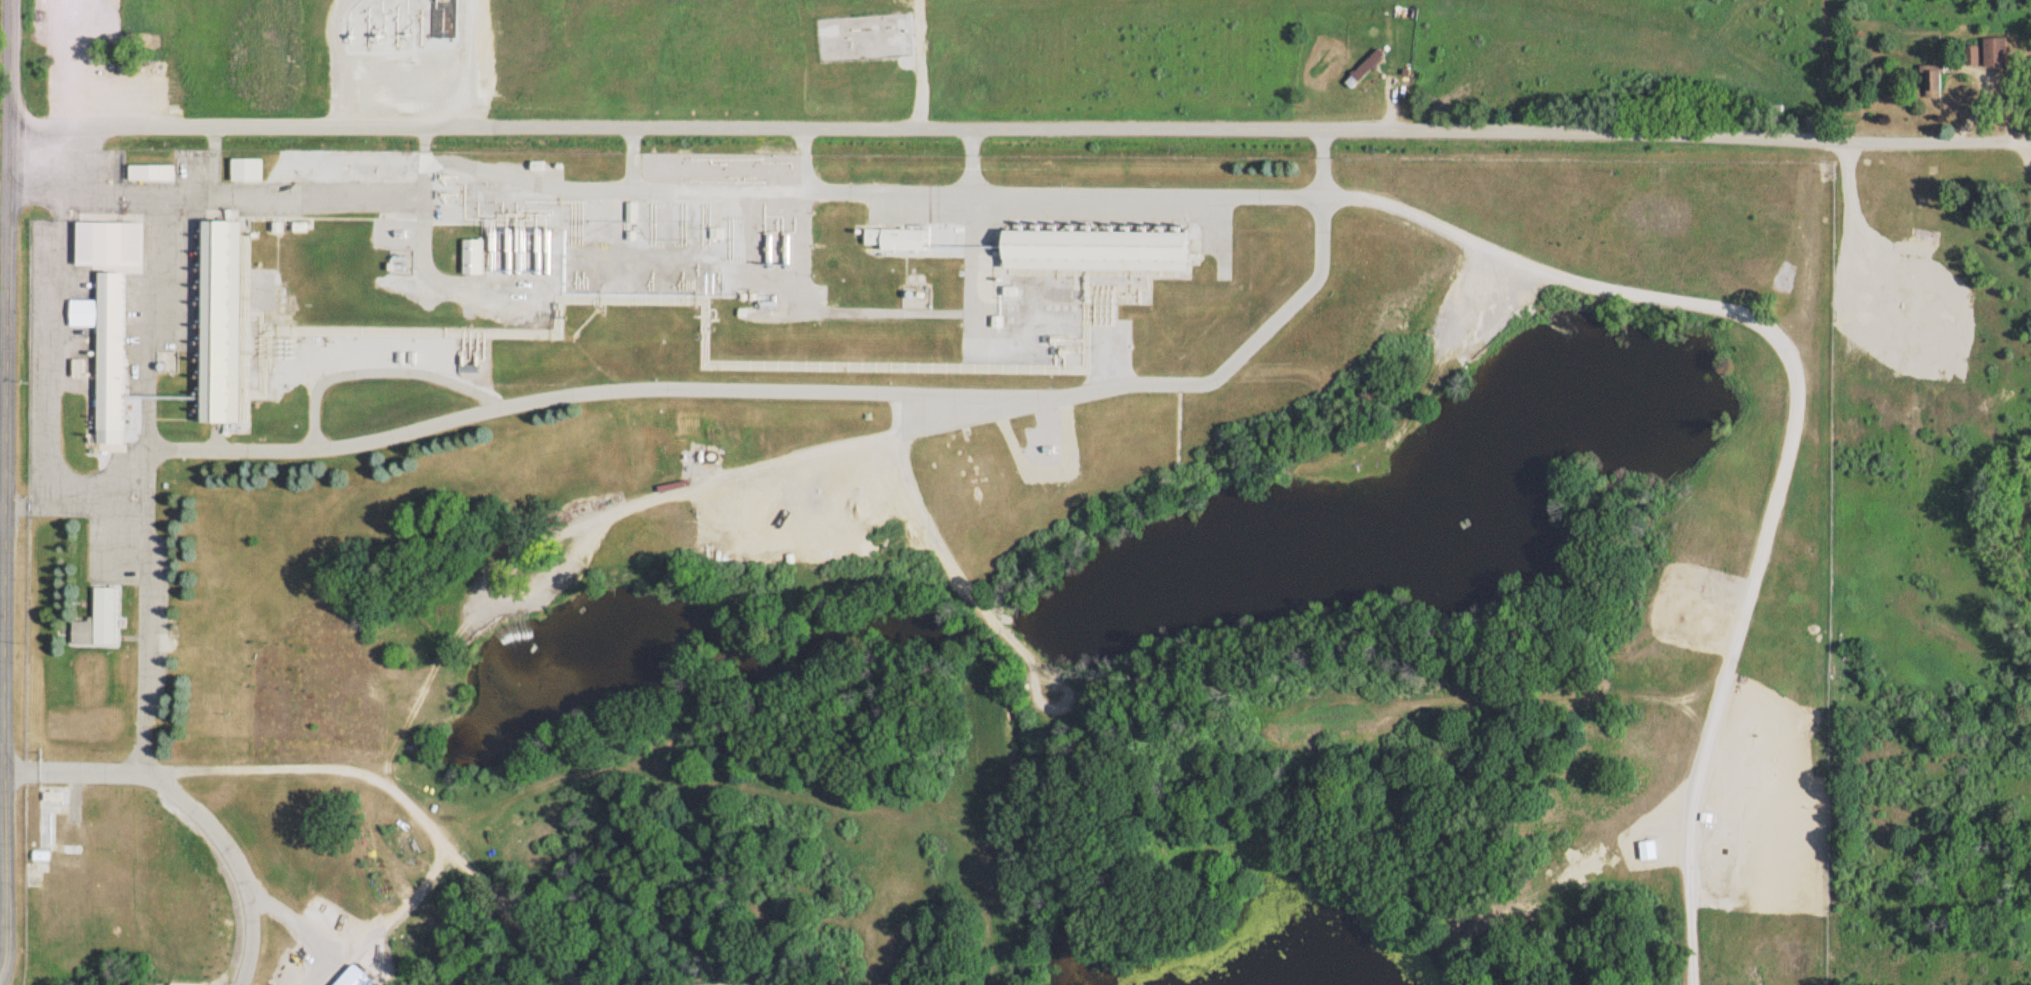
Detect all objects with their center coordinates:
building: (447, 1)
building: (447, 8)
building: (1999, 53)
road: (915, 64)
building: (1366, 70)
building: (1937, 83)
road: (915, 127)
road: (1926, 139)
road: (2028, 144)
road: (672, 163)
road: (826, 165)
building: (250, 169)
building: (155, 173)
road: (208, 190)
road: (897, 204)
building: (902, 240)
road: (952, 244)
building: (1106, 251)
building: (476, 257)
building: (115, 312)
road: (151, 321)
building: (229, 321)
road: (1771, 335)
road: (386, 371)
road: (751, 384)
road: (1003, 412)
road: (6, 489)
building: (818, 499)
building: (102, 621)
road: (3, 662)
road: (1714, 666)
road: (132, 739)
road: (328, 771)
building: (1650, 851)
building: (359, 977)

